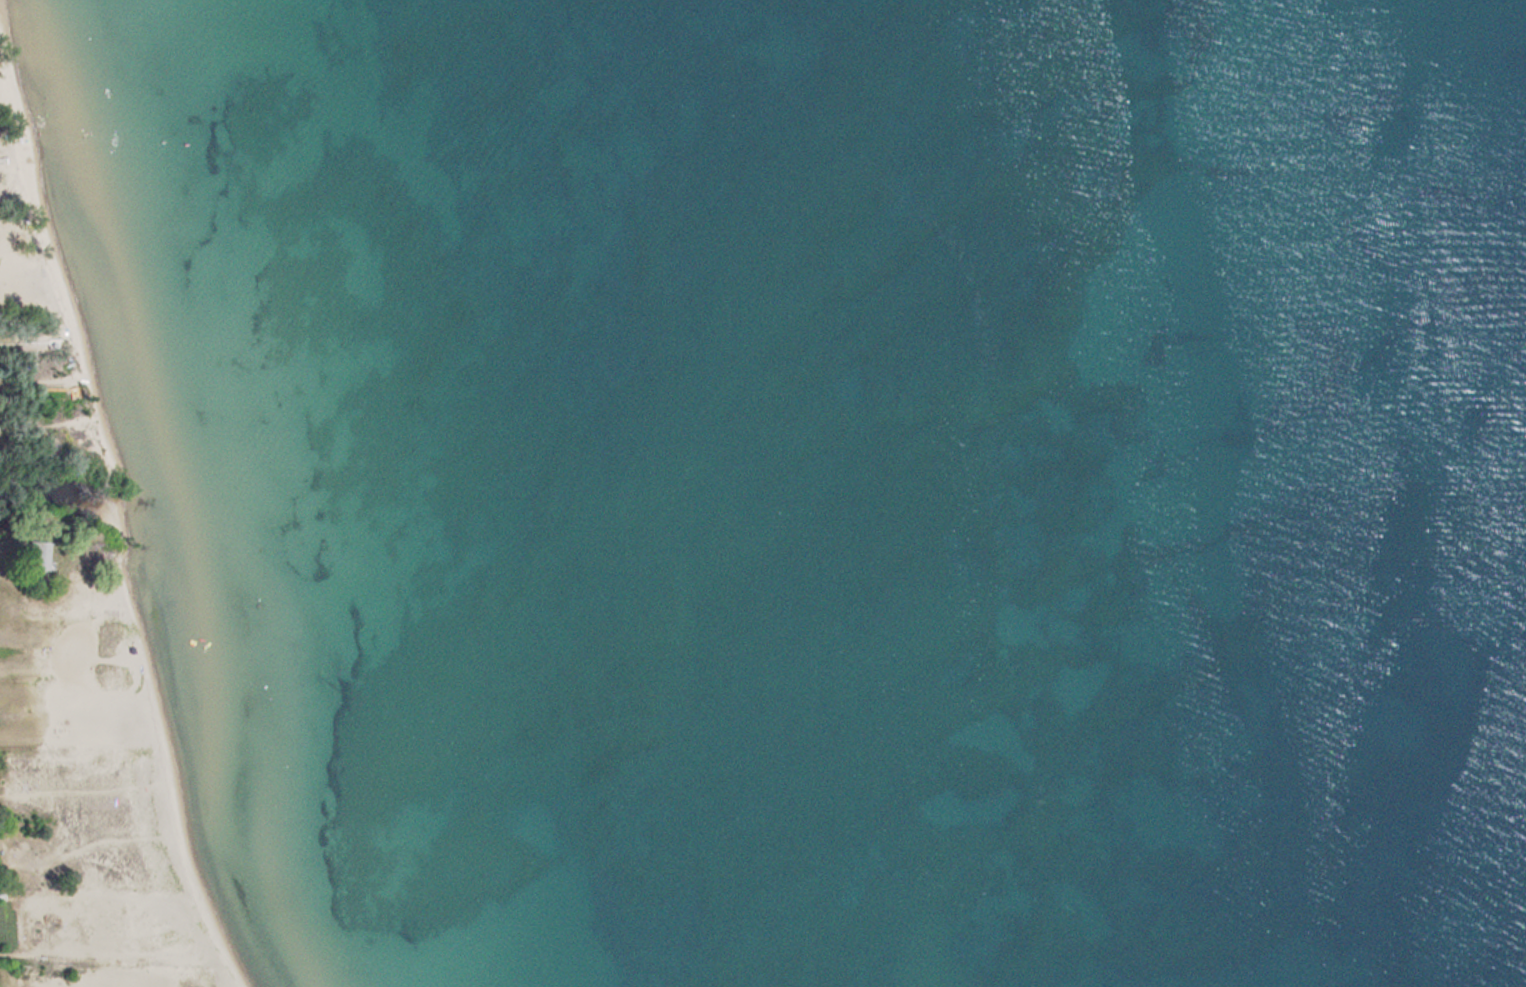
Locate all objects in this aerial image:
building: (42, 557)

